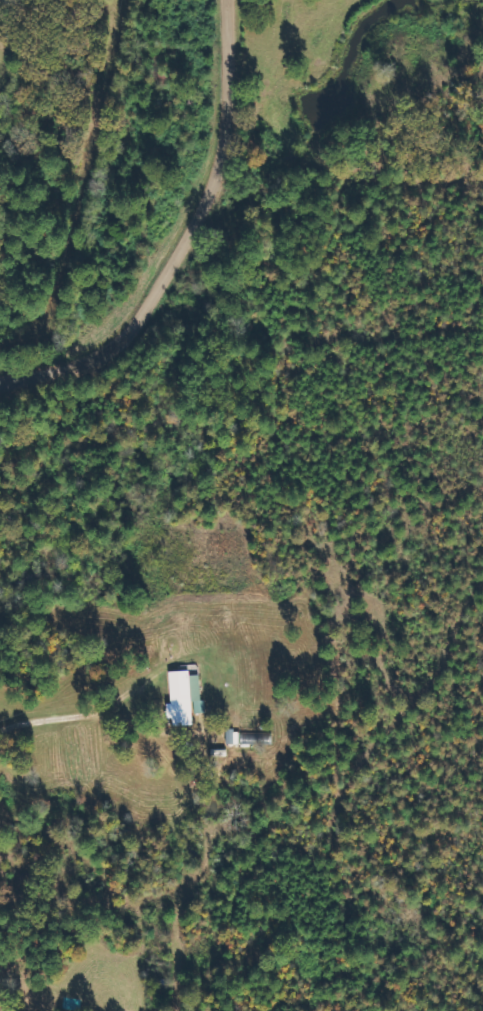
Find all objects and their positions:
road: (191, 246)
building: (182, 696)
building: (248, 737)

